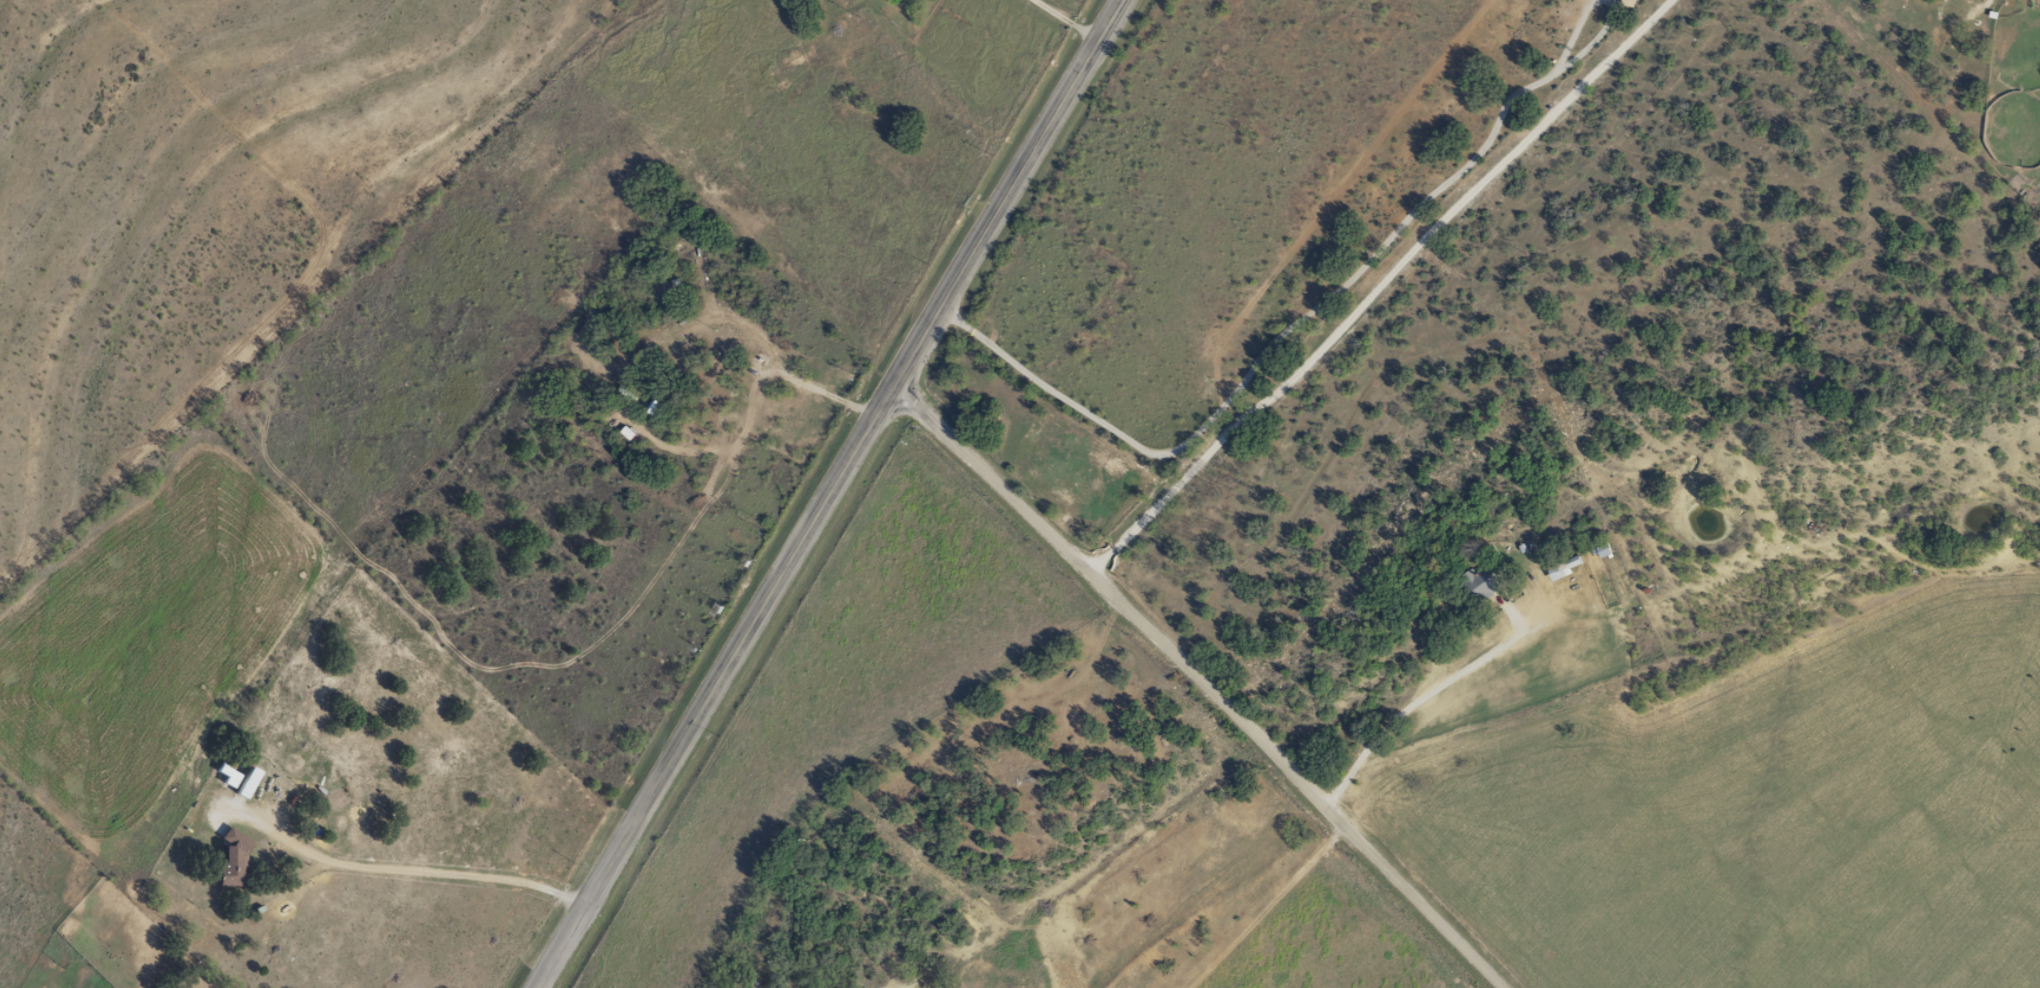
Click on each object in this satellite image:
building: (720, 358)
building: (613, 360)
building: (655, 404)
road: (1553, 472)
road: (827, 495)
road: (1290, 525)
building: (1598, 550)
building: (1558, 567)
building: (1477, 585)
road: (1170, 697)
building: (237, 779)
building: (234, 859)
building: (735, 986)

